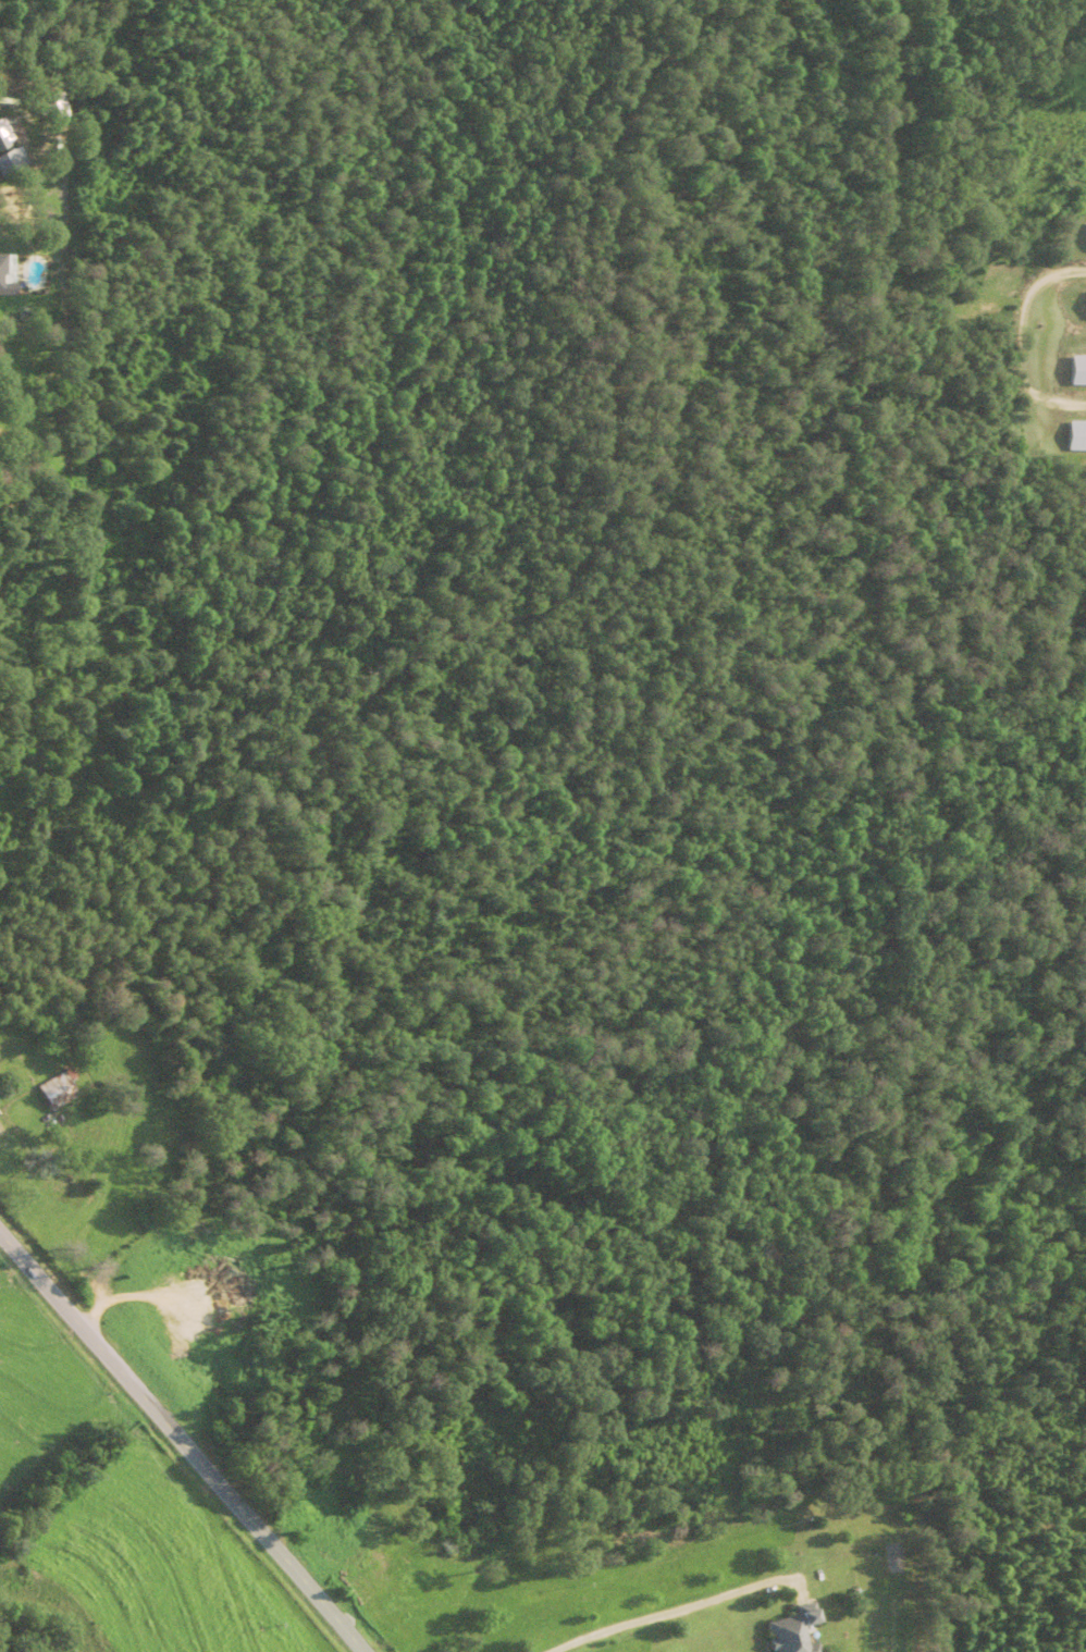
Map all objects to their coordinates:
building: (3, 140)
building: (13, 163)
building: (1085, 238)
building: (5, 280)
building: (1085, 307)
building: (1077, 371)
building: (1078, 436)
building: (60, 1090)
road: (181, 1442)
road: (668, 1613)
building: (783, 1631)

